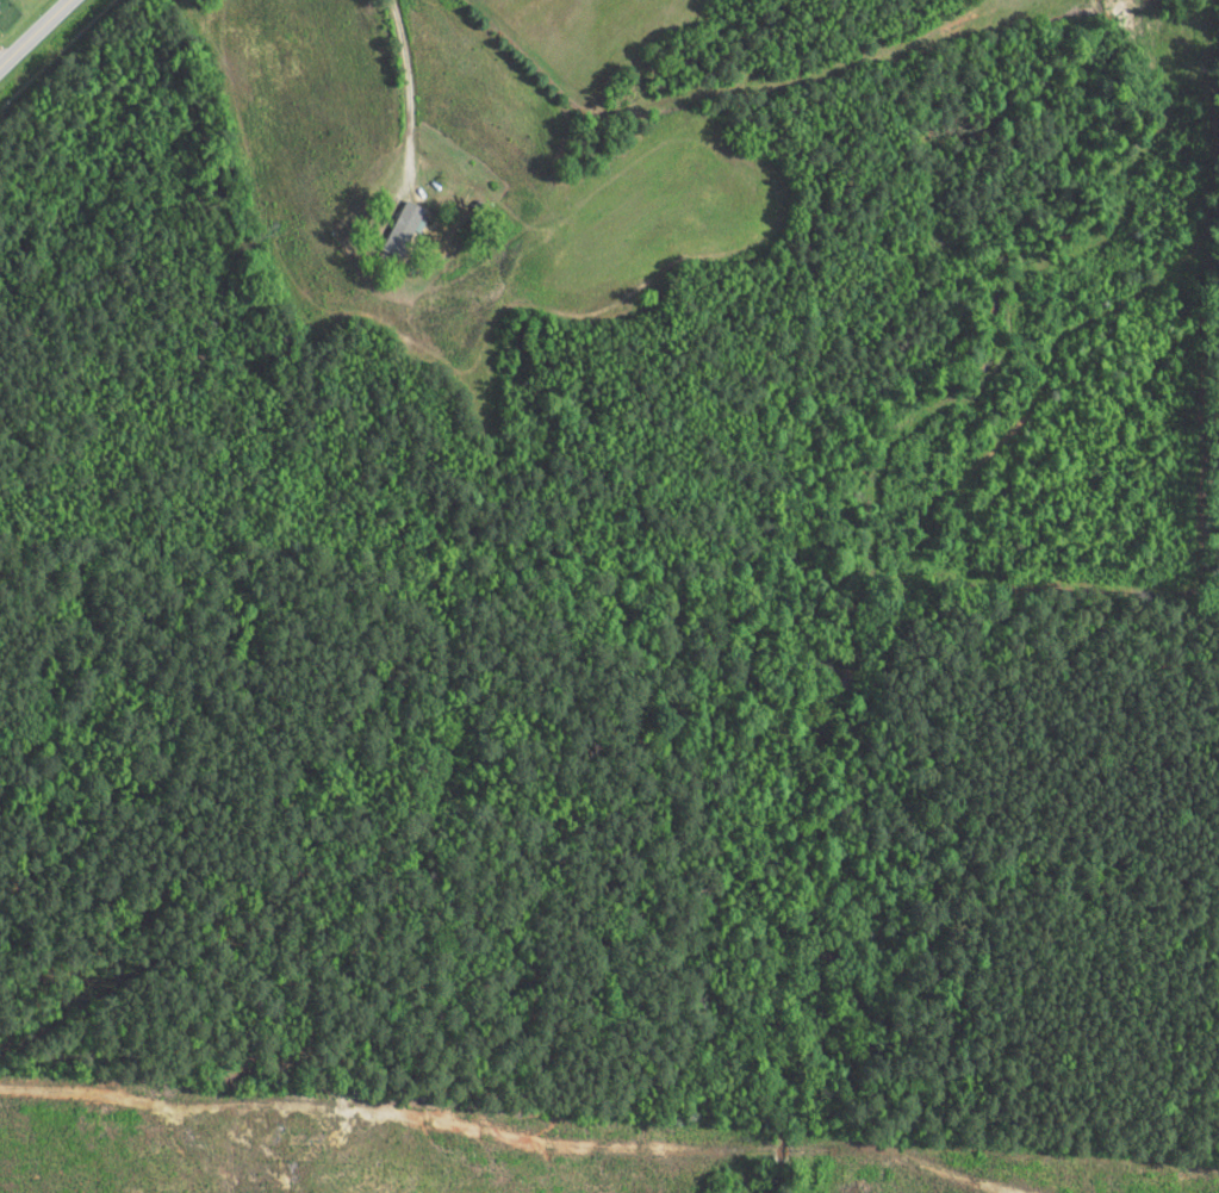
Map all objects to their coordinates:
road: (36, 35)
building: (399, 236)
road: (231, 602)

